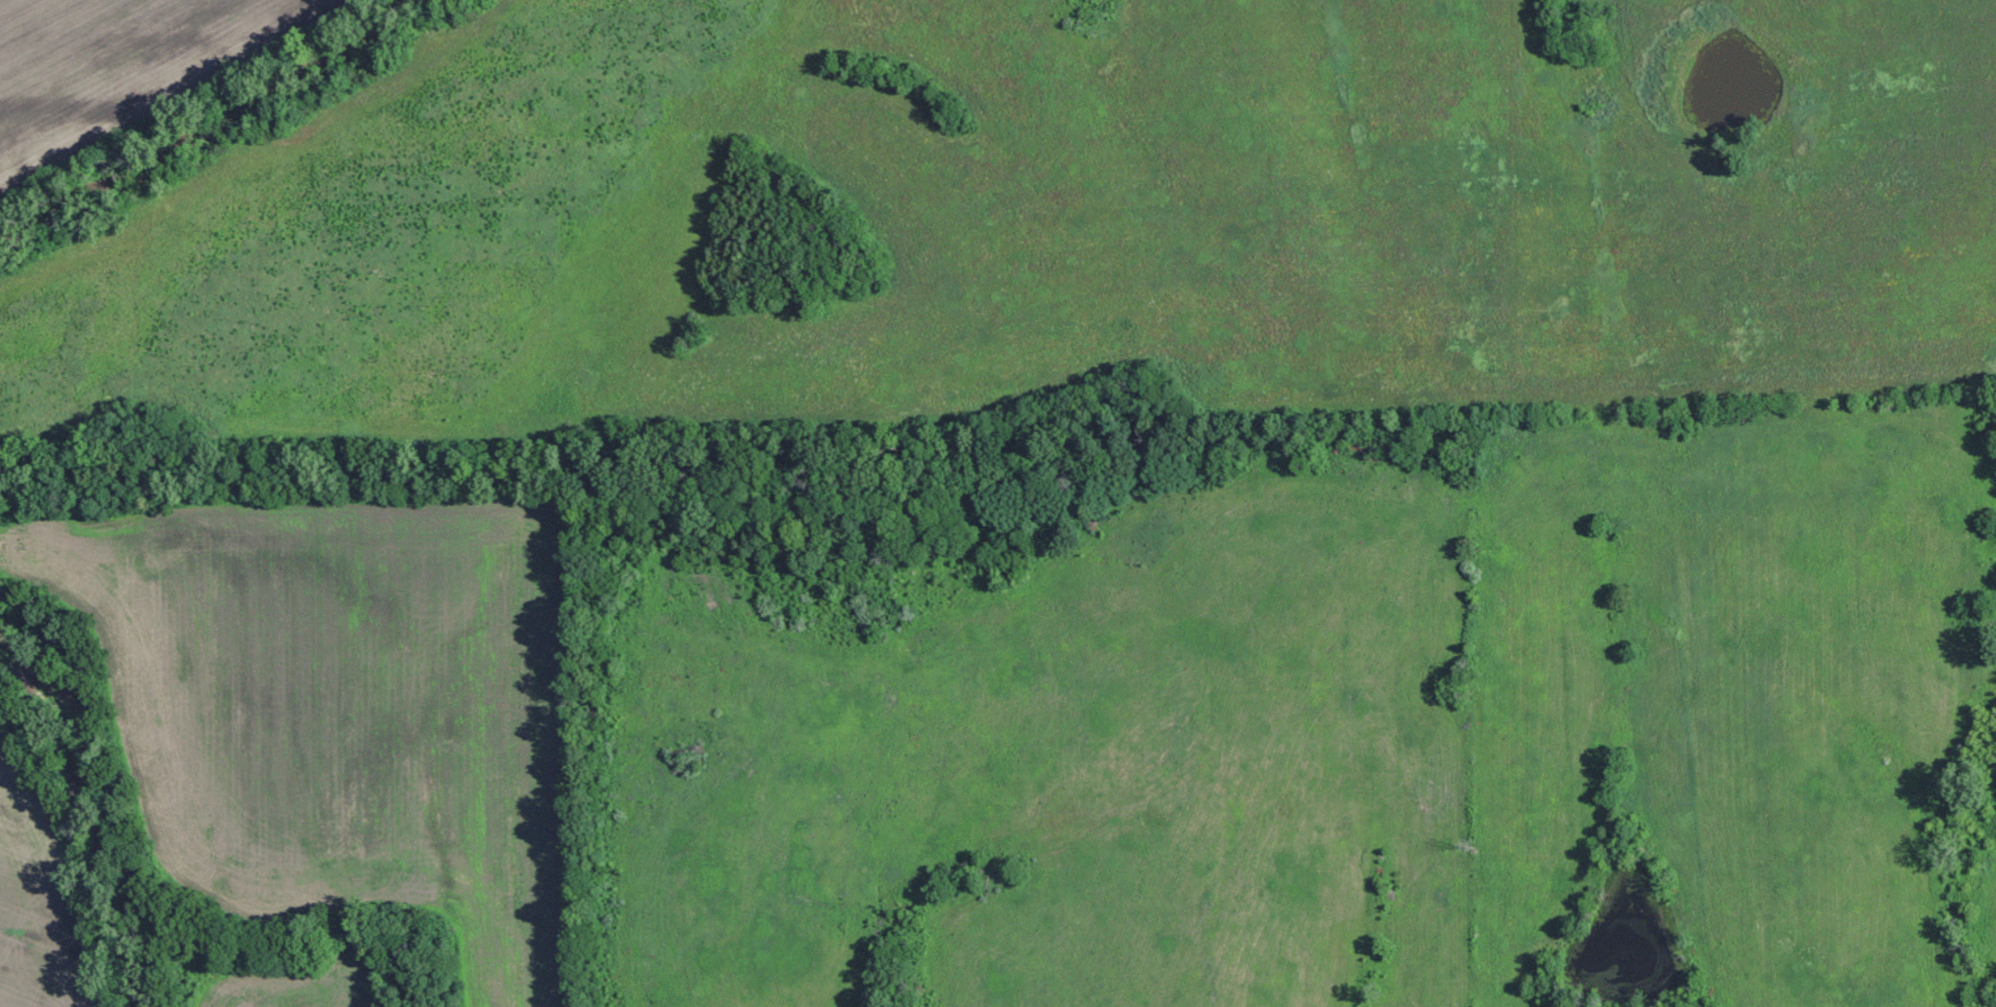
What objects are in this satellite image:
crop: (112, 64)

